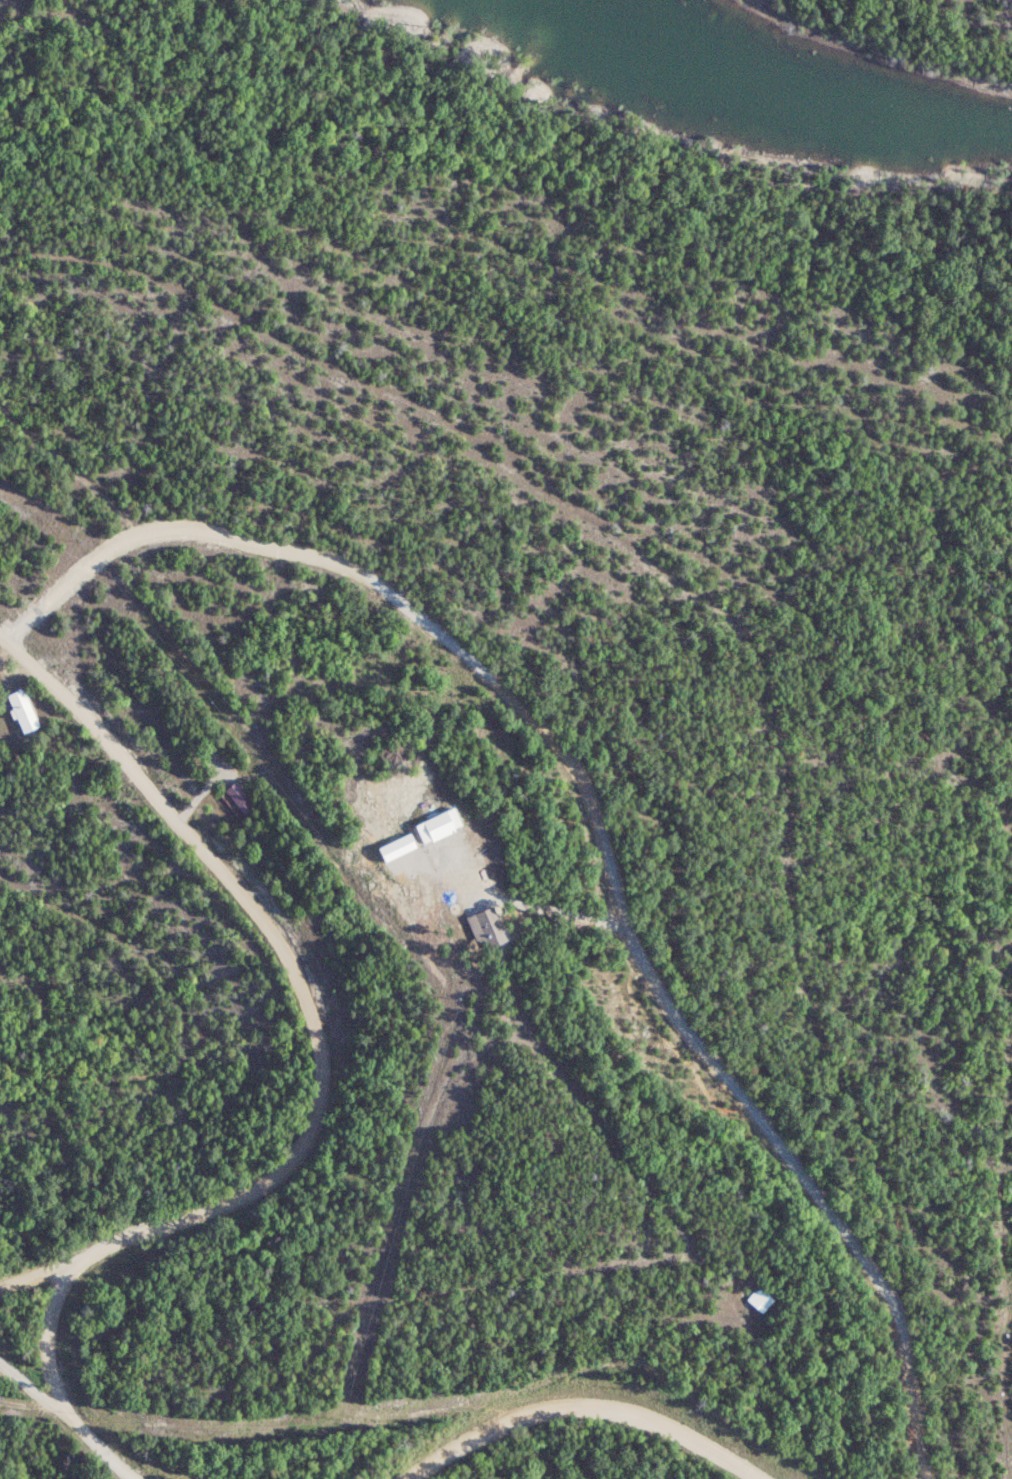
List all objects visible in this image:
building: (24, 710)
road: (594, 824)
building: (440, 825)
building: (489, 927)
road: (8, 979)
road: (303, 1005)
building: (758, 1298)
road: (48, 1329)
road: (584, 1406)
road: (71, 1415)

